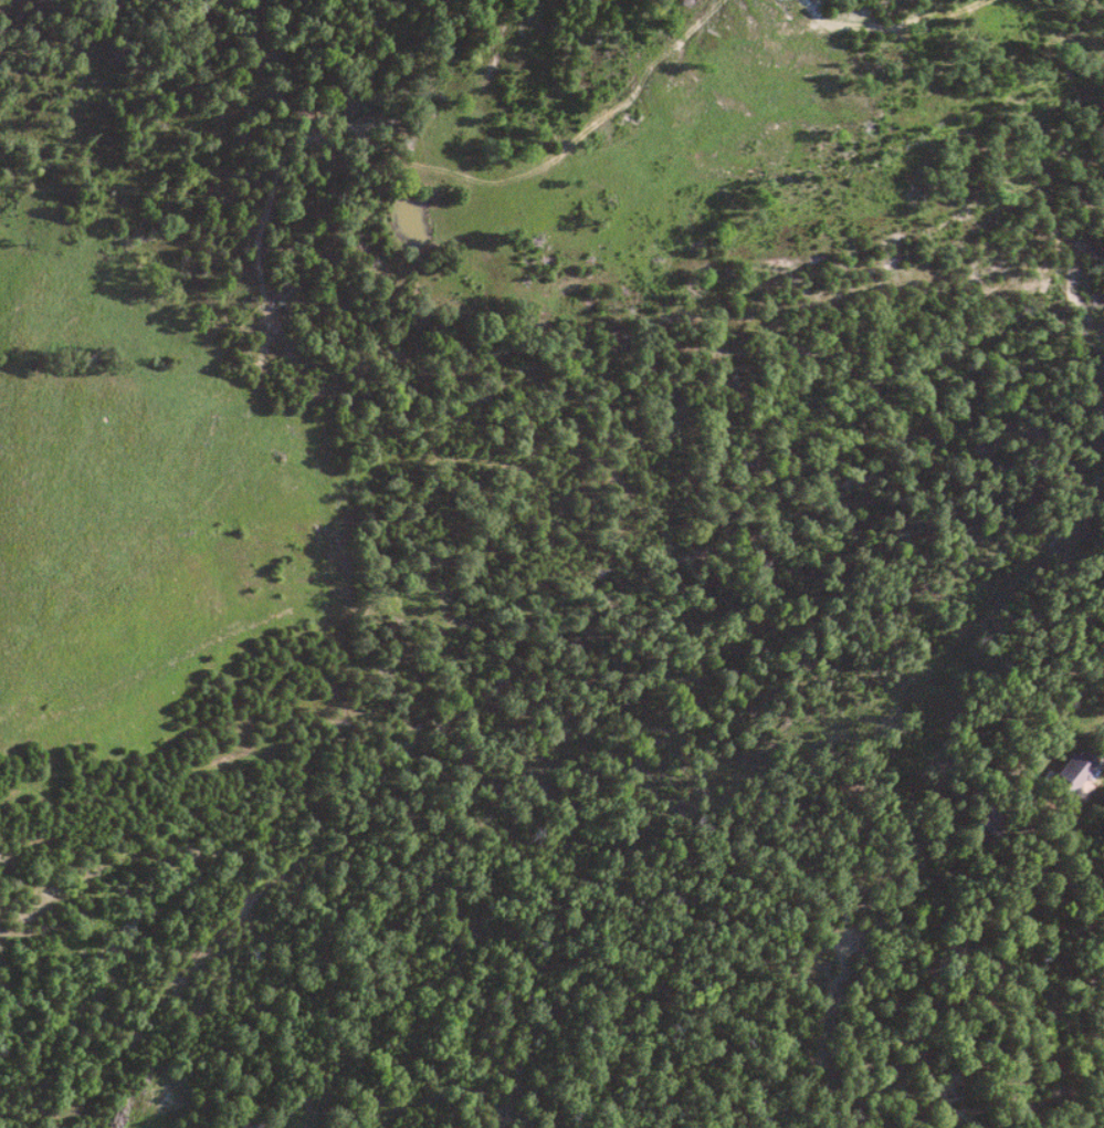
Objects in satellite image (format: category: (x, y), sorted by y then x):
building: (1075, 767)

